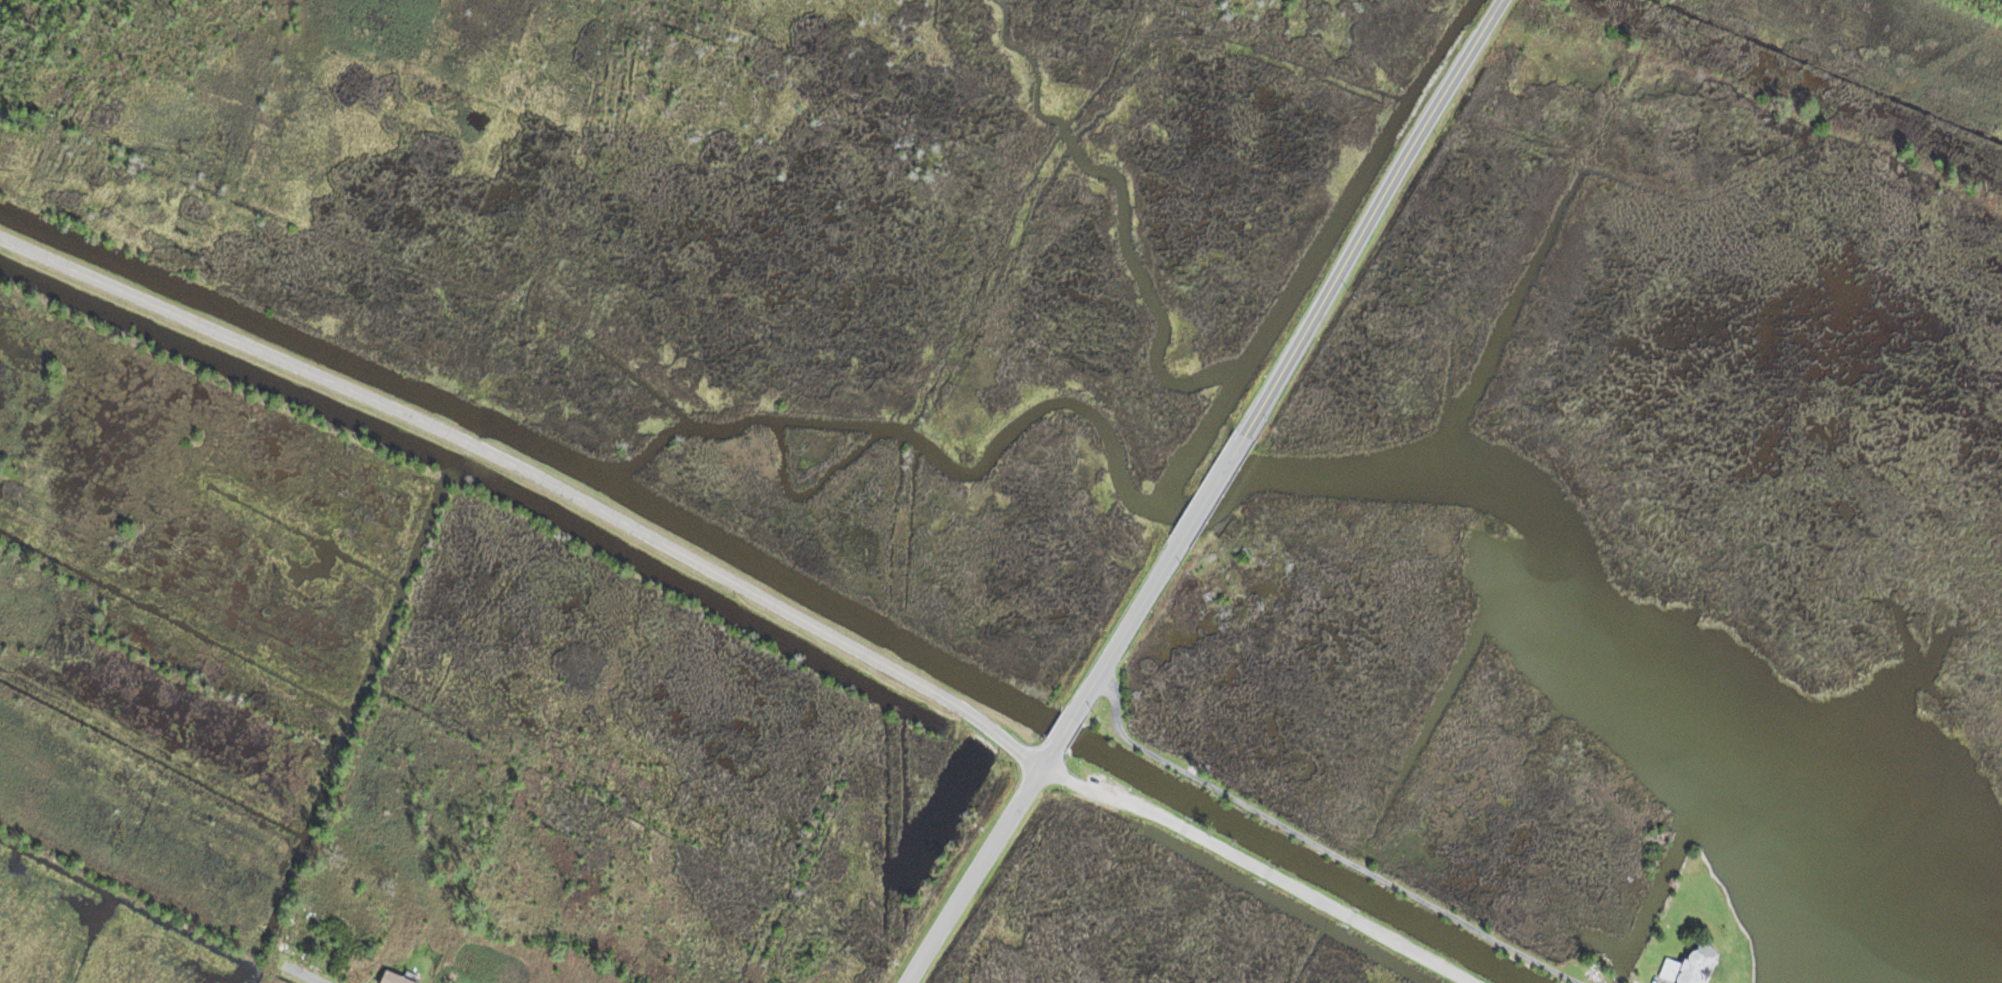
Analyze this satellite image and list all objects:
road: (1981, 8)
road: (1372, 215)
road: (534, 478)
road: (1214, 485)
road: (1128, 626)
road: (1065, 730)
road: (1321, 846)
road: (980, 863)
road: (1263, 868)
building: (1690, 965)
road: (310, 974)
building: (395, 977)

